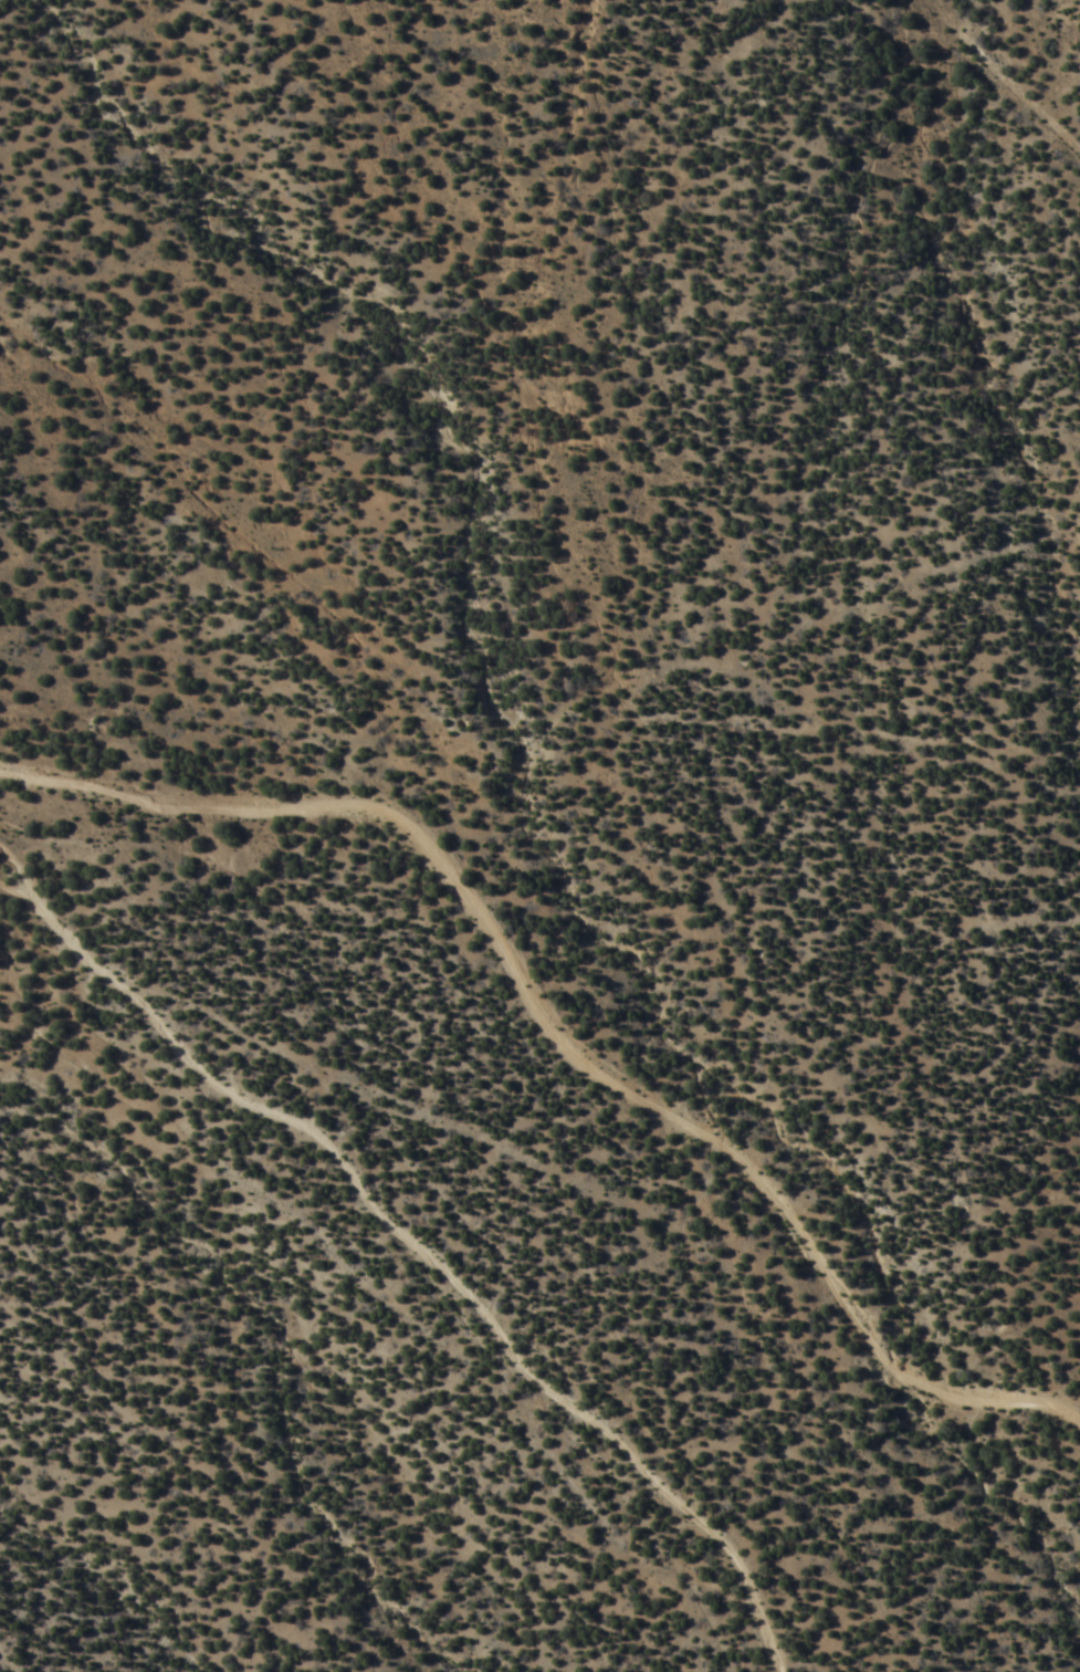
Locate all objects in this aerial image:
road: (576, 1057)
road: (426, 1279)

